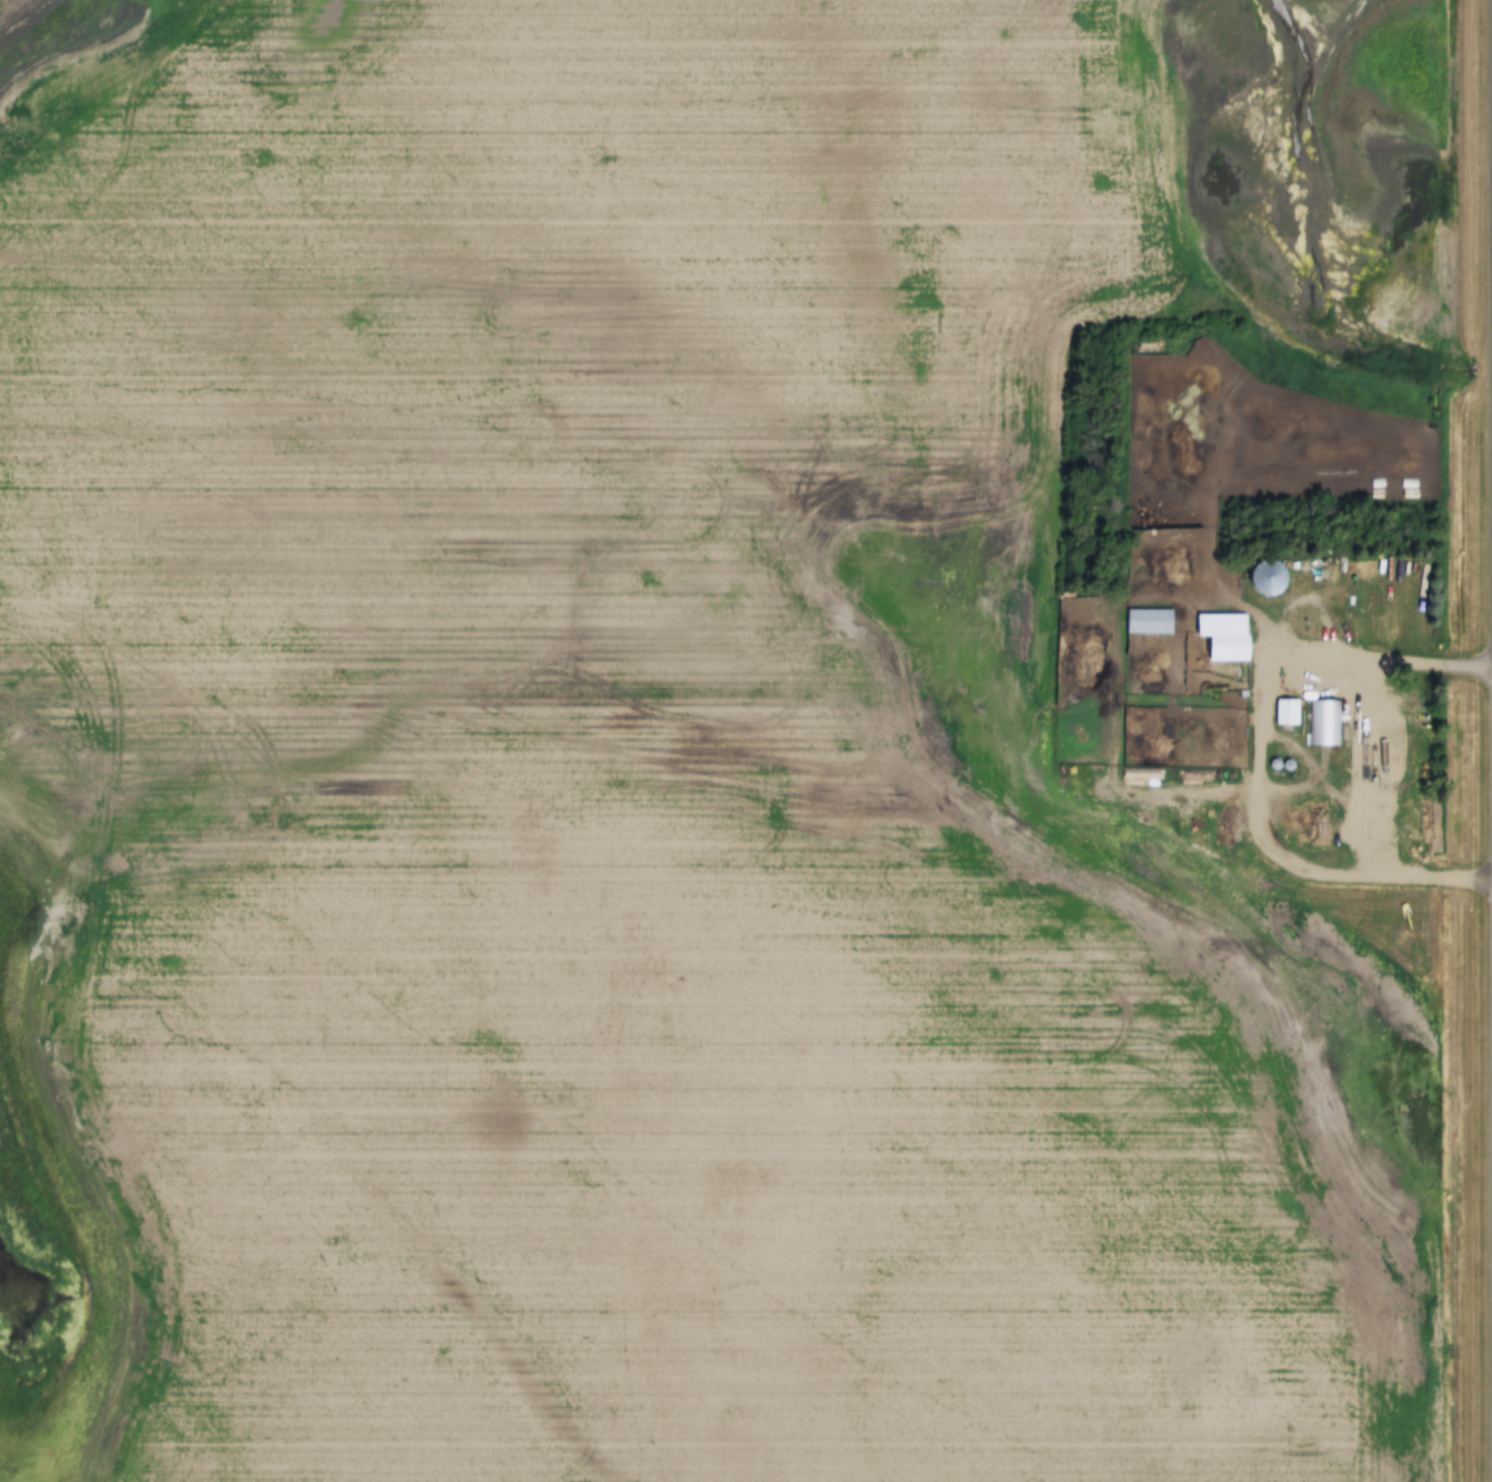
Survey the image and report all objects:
building: (1277, 578)
building: (1153, 622)
building: (1240, 648)
building: (1292, 713)
building: (1327, 724)
road: (1277, 731)
road: (1272, 857)

